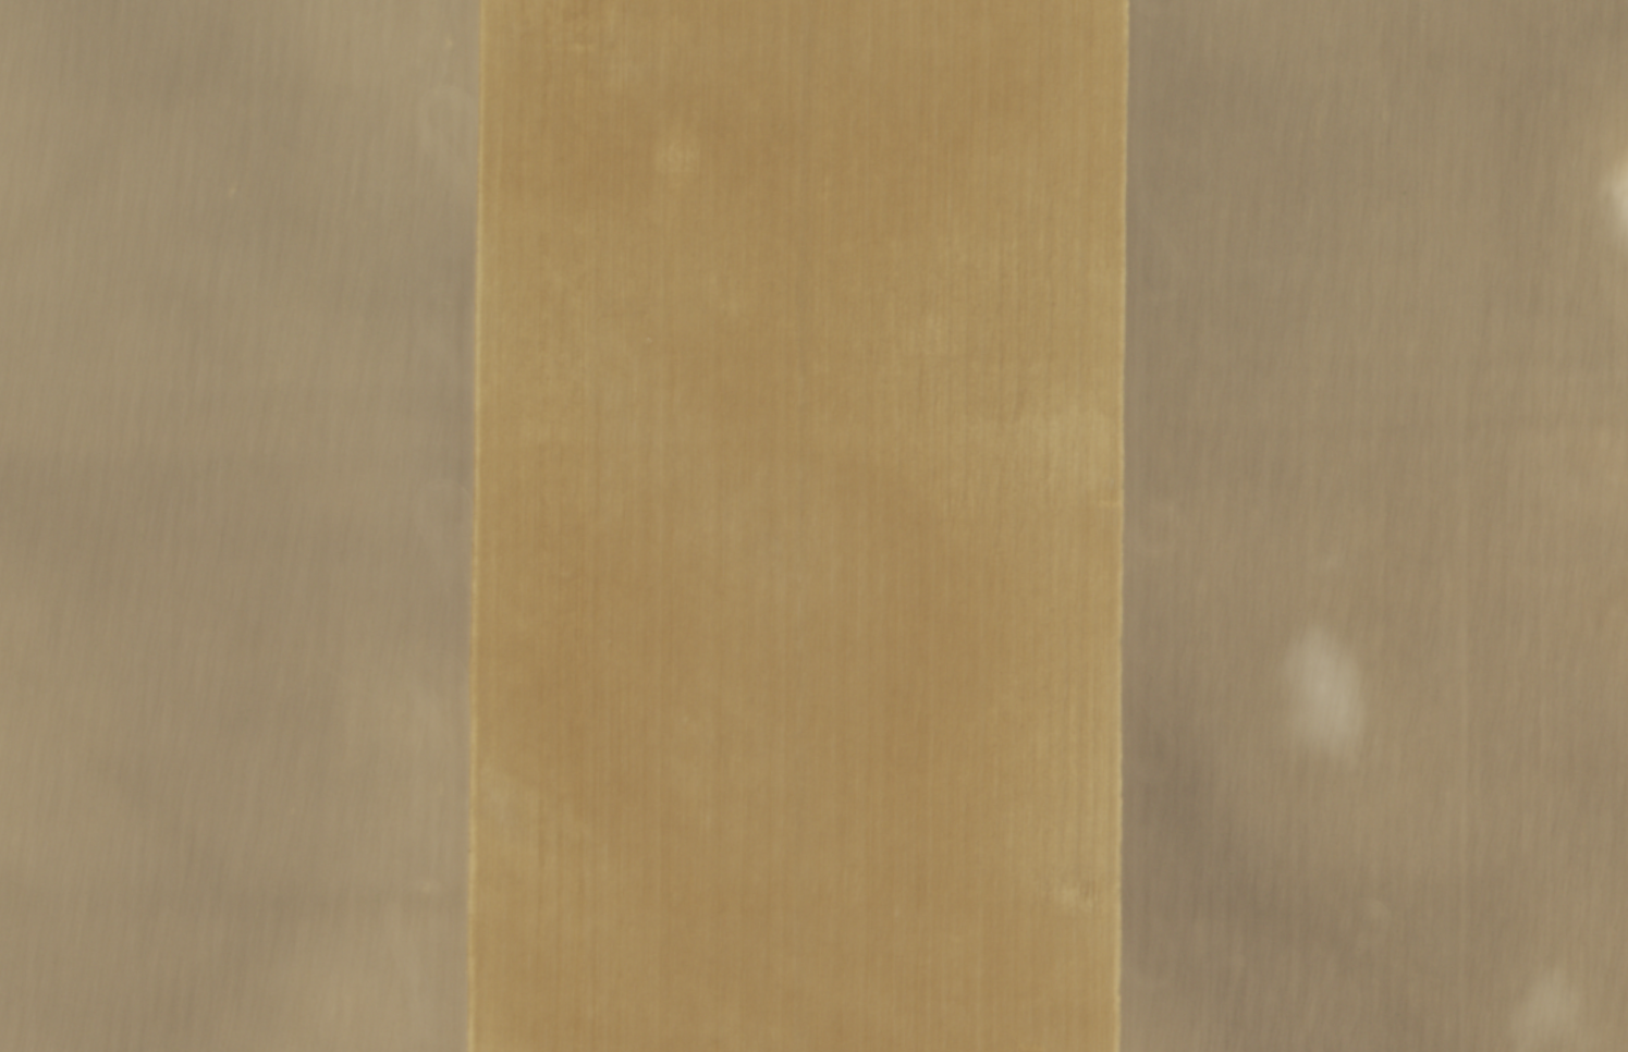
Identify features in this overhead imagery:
crop: (813, 526)

